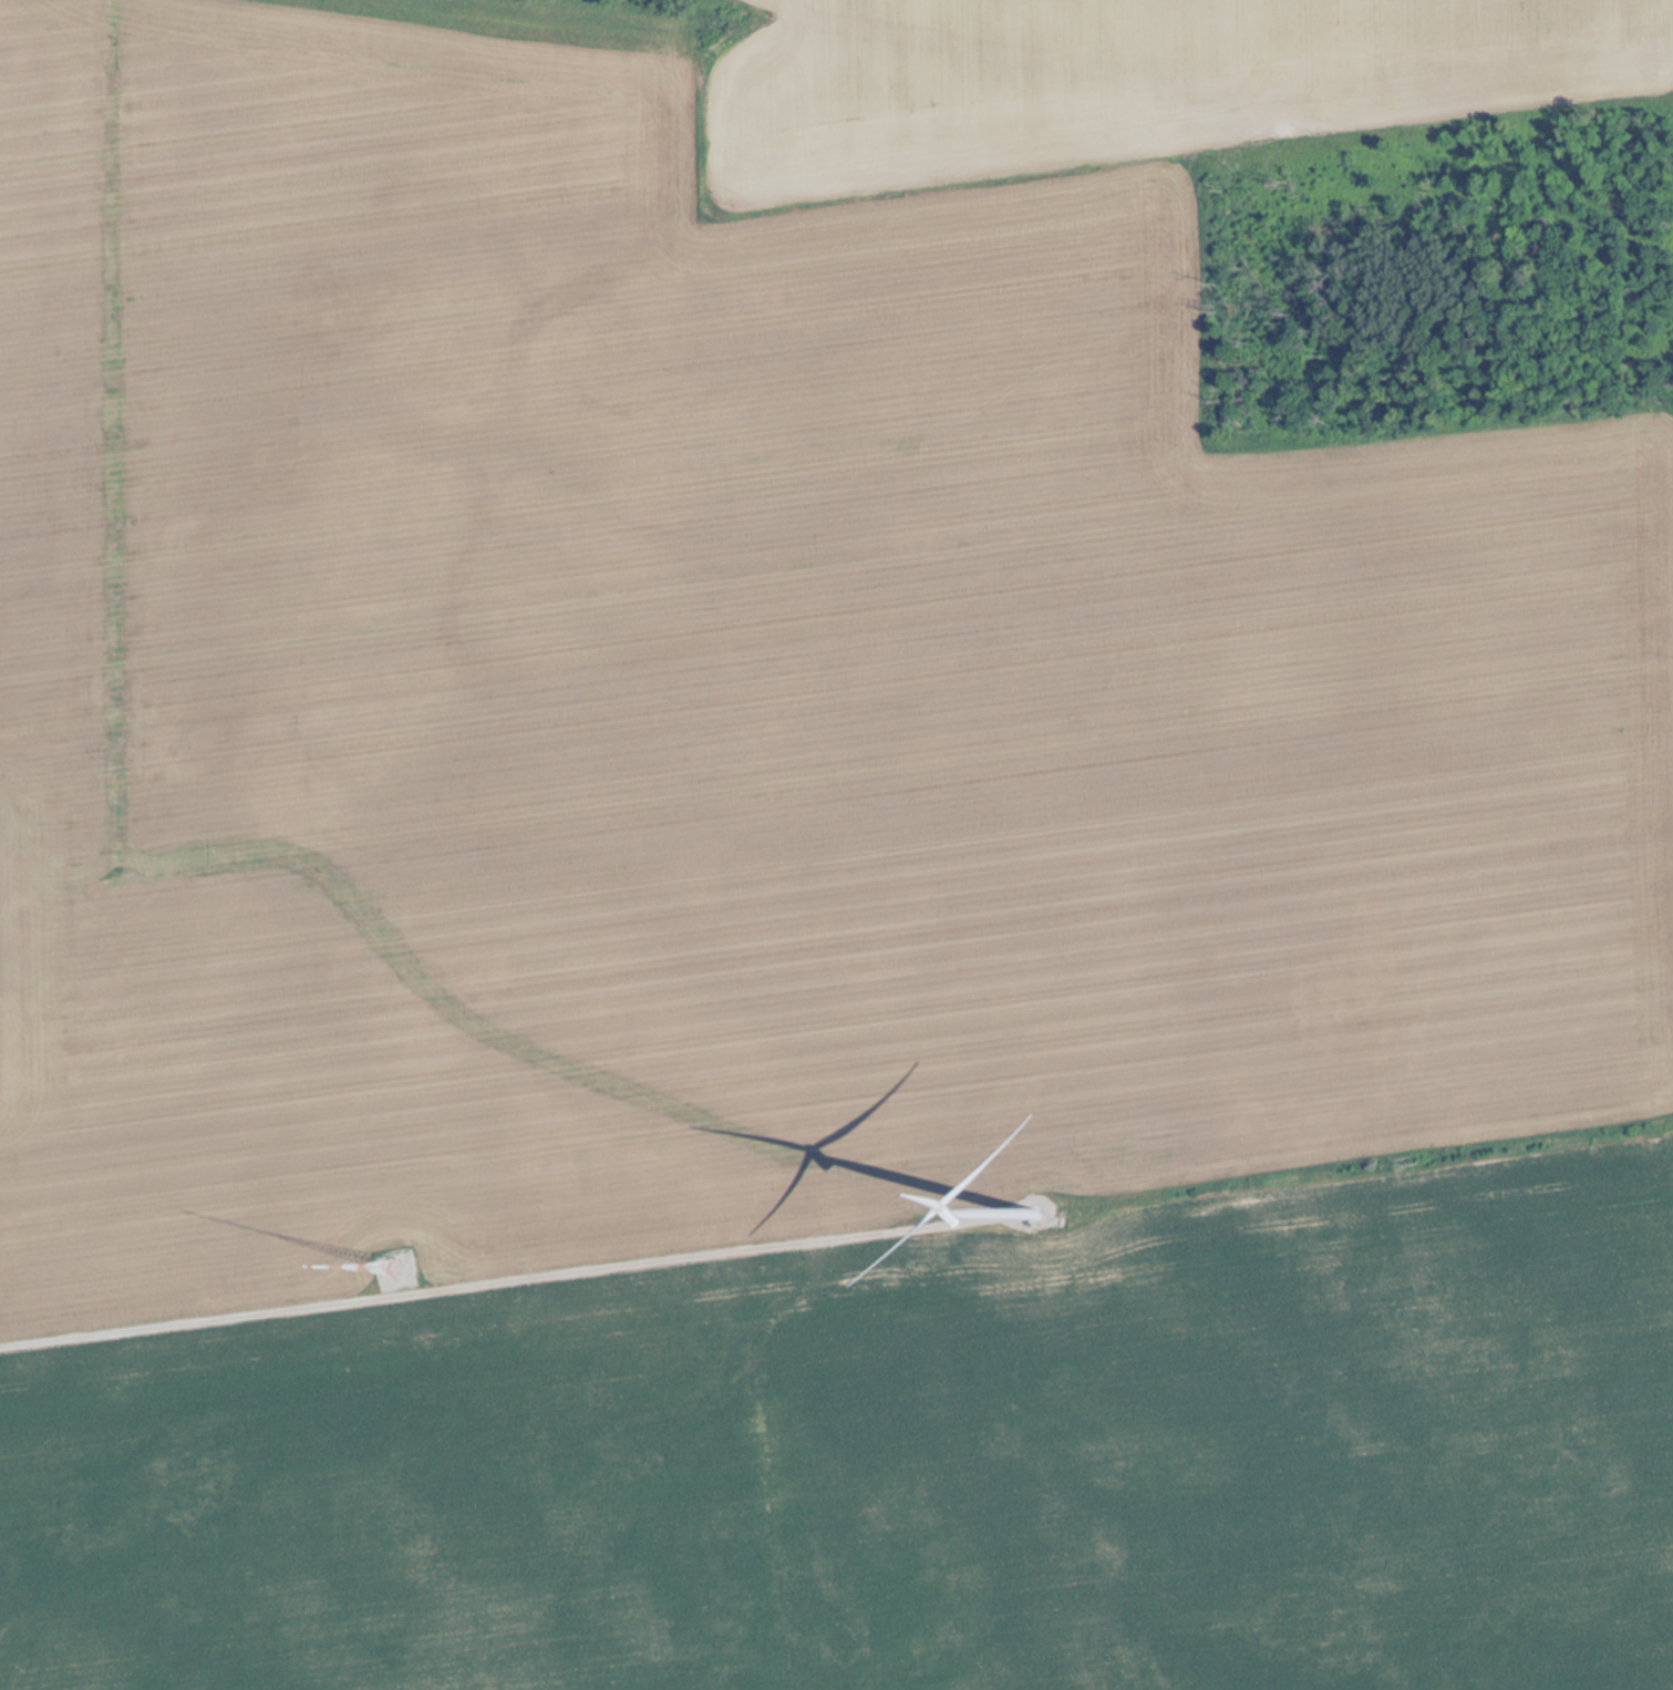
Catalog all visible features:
wind turbine: (1035, 1212)

